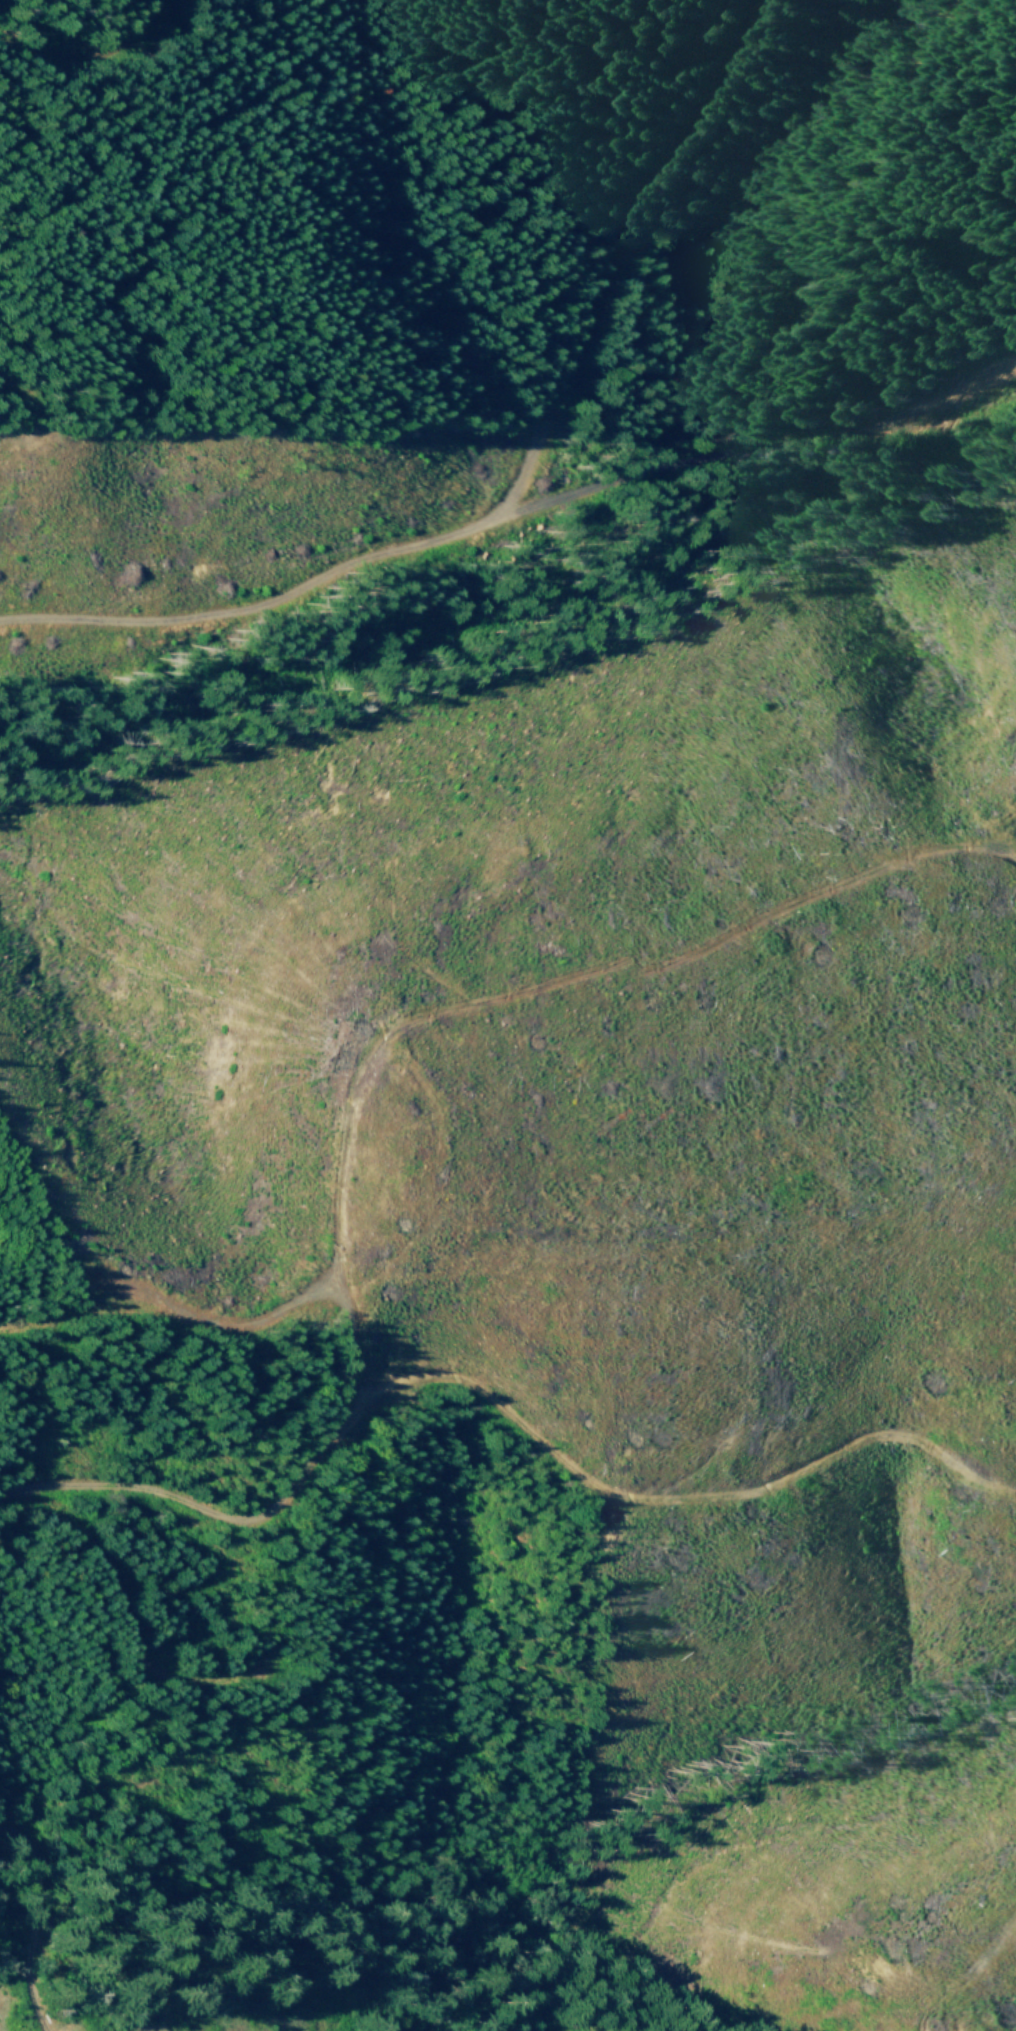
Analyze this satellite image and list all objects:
road: (20, 1976)

